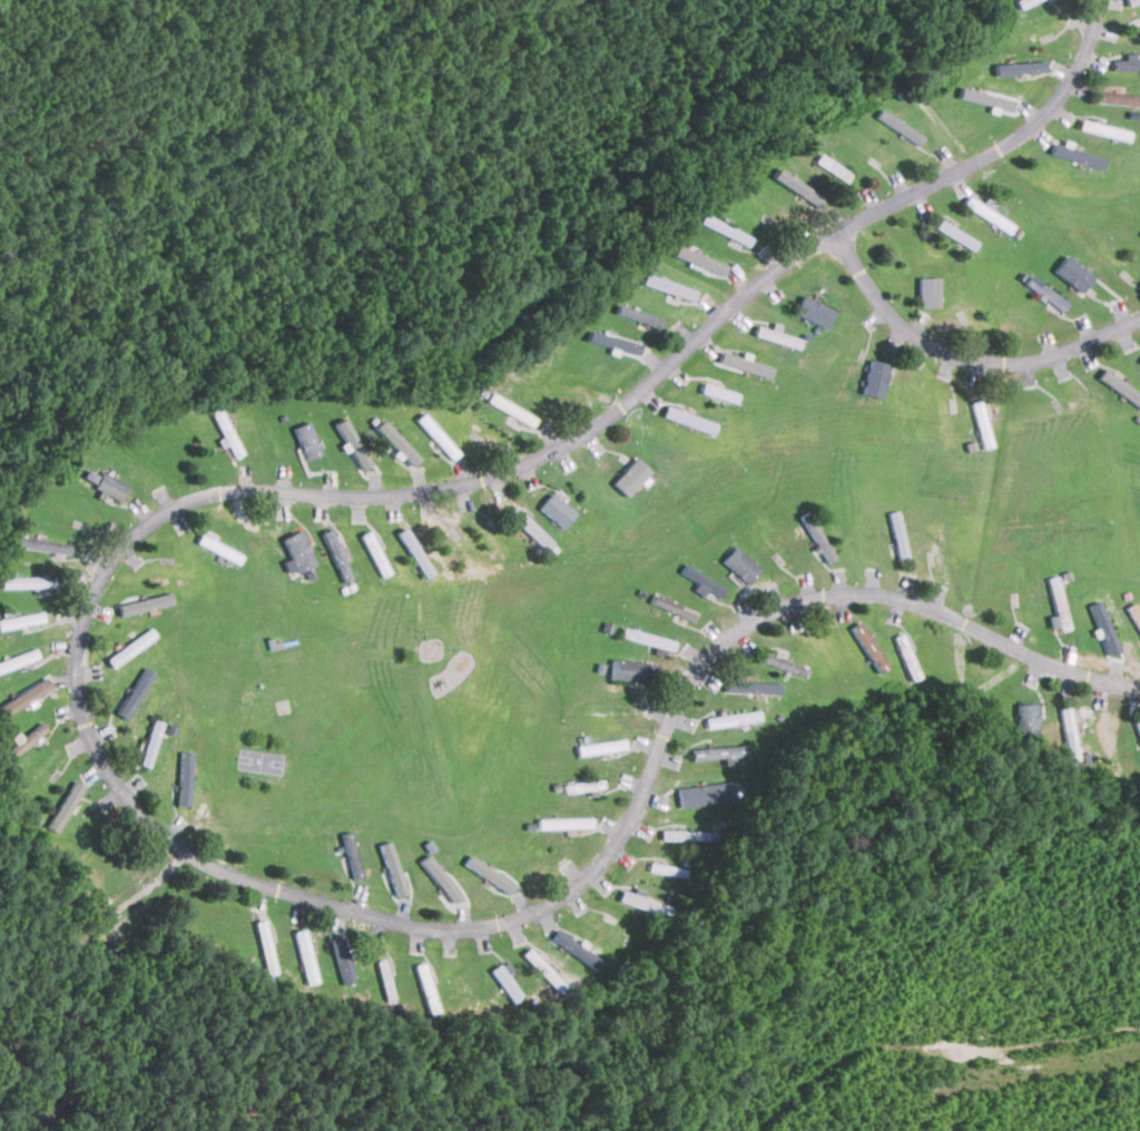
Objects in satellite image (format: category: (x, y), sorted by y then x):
building: (1131, 1)
building: (1022, 2)
building: (1127, 62)
building: (1019, 67)
building: (1118, 97)
building: (898, 126)
building: (1102, 129)
building: (1075, 155)
building: (797, 187)
building: (727, 230)
building: (955, 234)
building: (699, 259)
building: (1072, 274)
building: (668, 286)
building: (927, 292)
building: (814, 312)
building: (643, 317)
building: (776, 336)
building: (612, 342)
road: (963, 358)
building: (1139, 361)
building: (744, 364)
building: (874, 377)
building: (1120, 386)
building: (718, 393)
building: (511, 409)
building: (681, 416)
building: (308, 440)
building: (353, 442)
building: (399, 442)
building: (415, 445)
building: (629, 476)
building: (108, 483)
building: (557, 510)
building: (530, 528)
building: (896, 534)
building: (816, 537)
building: (861, 541)
building: (45, 544)
building: (219, 548)
building: (335, 551)
building: (297, 552)
building: (940, 555)
building: (740, 564)
building: (701, 580)
building: (28, 581)
building: (1020, 590)
building: (146, 603)
building: (1057, 603)
building: (671, 607)
building: (21, 620)
building: (646, 639)
building: (867, 647)
building: (129, 648)
building: (782, 663)
building: (628, 670)
building: (750, 687)
building: (32, 691)
building: (136, 691)
road: (77, 696)
building: (616, 708)
building: (1026, 718)
building: (721, 720)
building: (1138, 725)
building: (1069, 734)
building: (31, 736)
building: (1108, 737)
building: (151, 742)
building: (600, 747)
building: (718, 751)
building: (186, 777)
building: (583, 786)
building: (705, 794)
building: (66, 805)
building: (564, 823)
building: (687, 835)
building: (353, 858)
building: (393, 867)
building: (490, 873)
building: (444, 881)
building: (633, 899)
building: (599, 924)
building: (302, 937)
building: (343, 958)
building: (507, 980)

